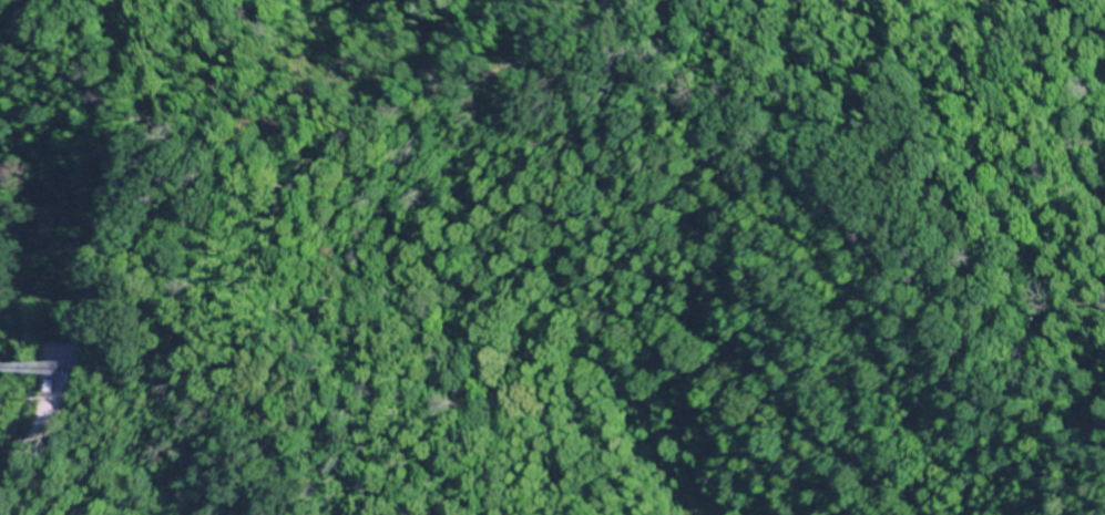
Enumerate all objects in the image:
road: (22, 453)

